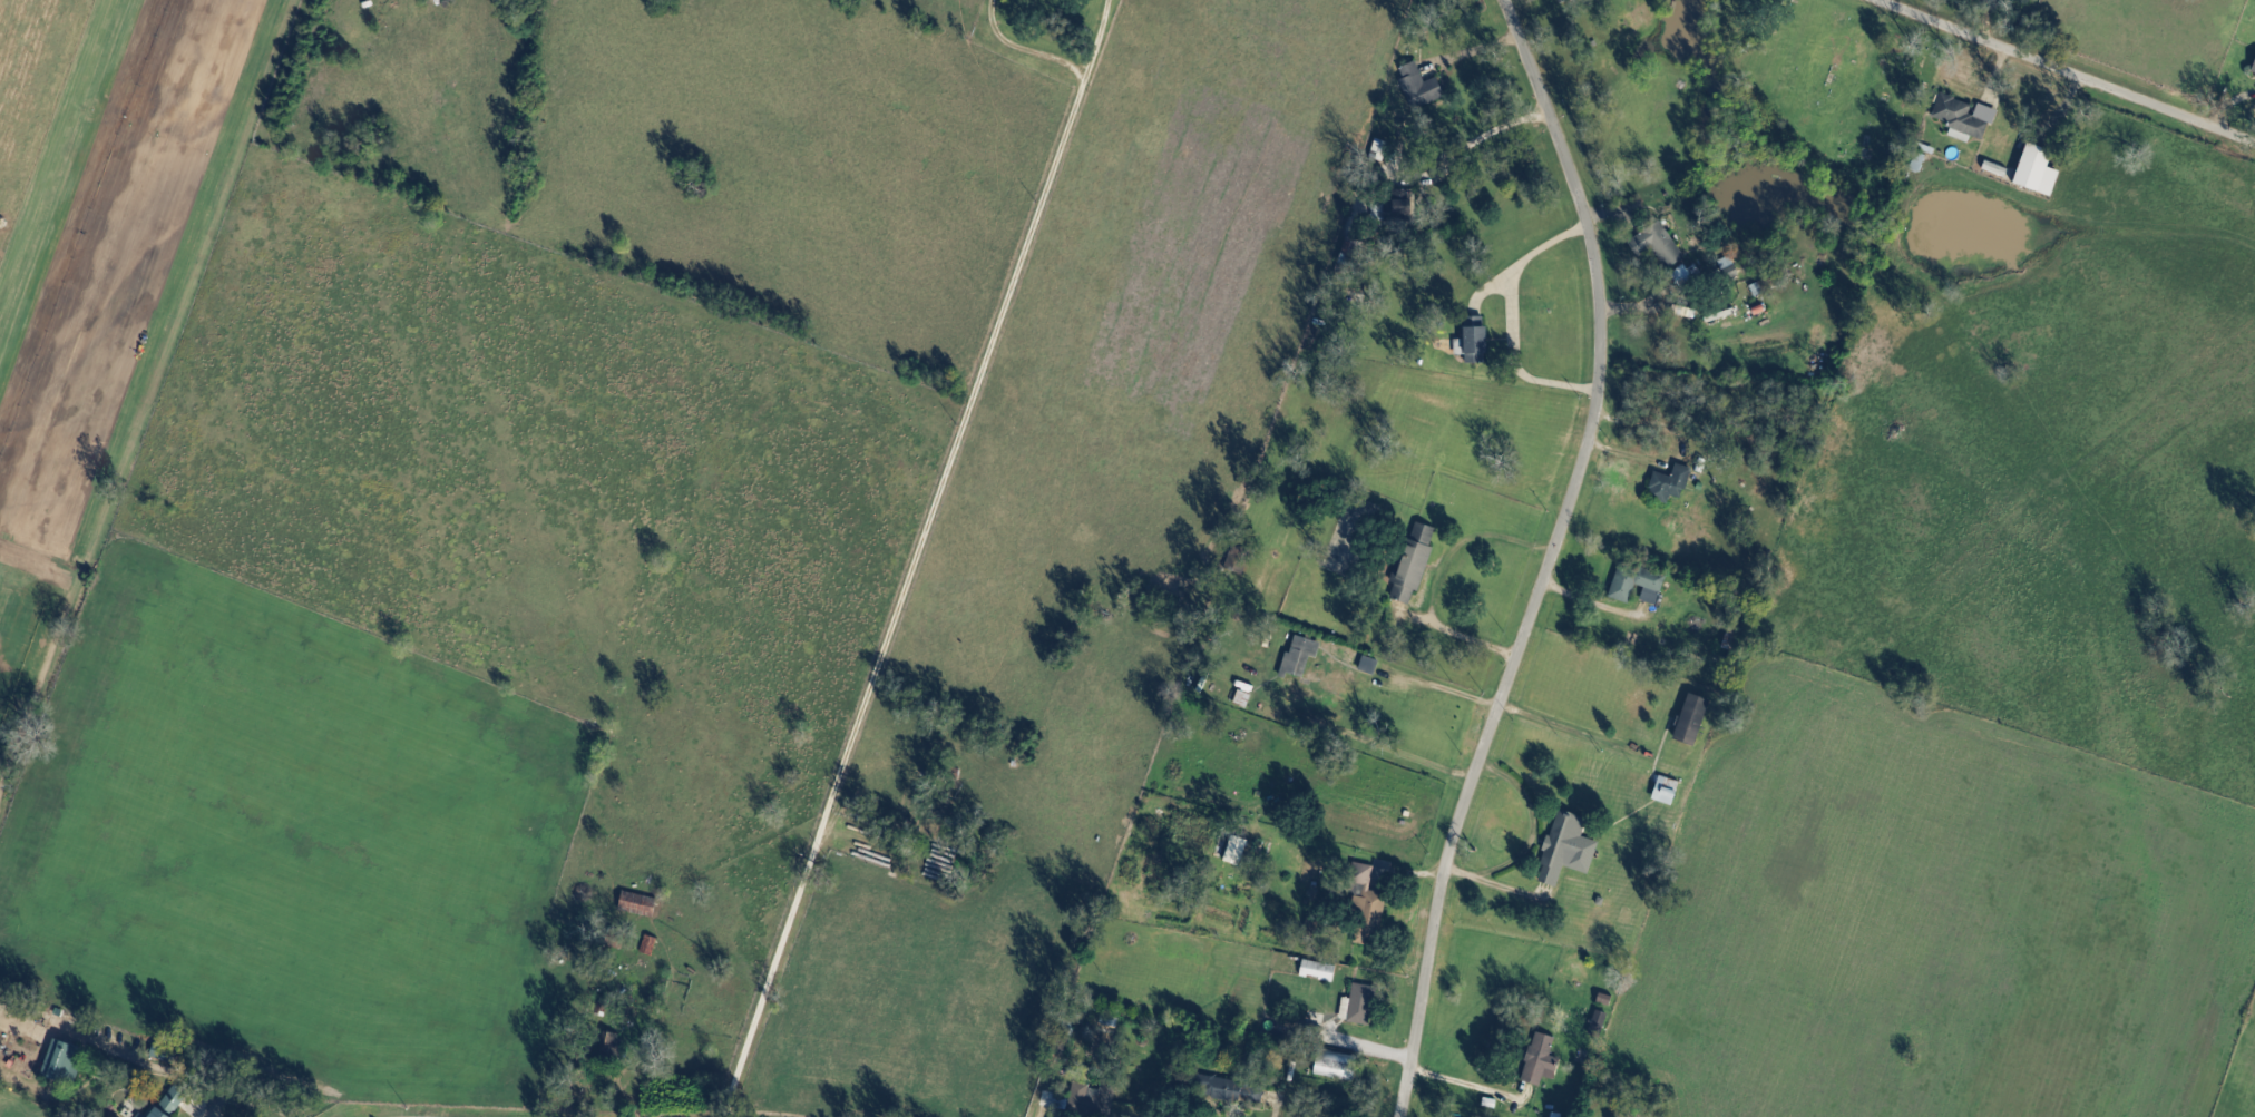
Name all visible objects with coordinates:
building: (1564, 1)
road: (321, 2)
road: (1989, 21)
road: (1068, 65)
road: (2066, 72)
building: (2254, 75)
road: (1997, 81)
building: (1422, 87)
building: (1965, 119)
road: (1484, 135)
building: (2039, 173)
building: (1399, 206)
building: (1659, 245)
road: (1531, 261)
building: (1731, 268)
road: (1650, 310)
building: (1478, 341)
road: (1517, 362)
building: (1672, 484)
road: (1464, 546)
road: (1542, 553)
building: (1416, 564)
building: (1623, 592)
road: (904, 599)
road: (1454, 634)
building: (1301, 657)
building: (1370, 666)
road: (1472, 695)
building: (1693, 719)
building: (1668, 791)
road: (1529, 834)
building: (1569, 849)
building: (640, 904)
building: (1368, 907)
building: (1320, 970)
building: (1360, 1005)
building: (1112, 1021)
building: (1600, 1021)
building: (612, 1045)
building: (1542, 1060)
building: (65, 1062)
building: (1338, 1066)
road: (1468, 1078)
building: (1232, 1090)
road: (243, 1094)
building: (1094, 1099)
building: (170, 1105)
road: (1276, 1111)
building: (143, 1115)

